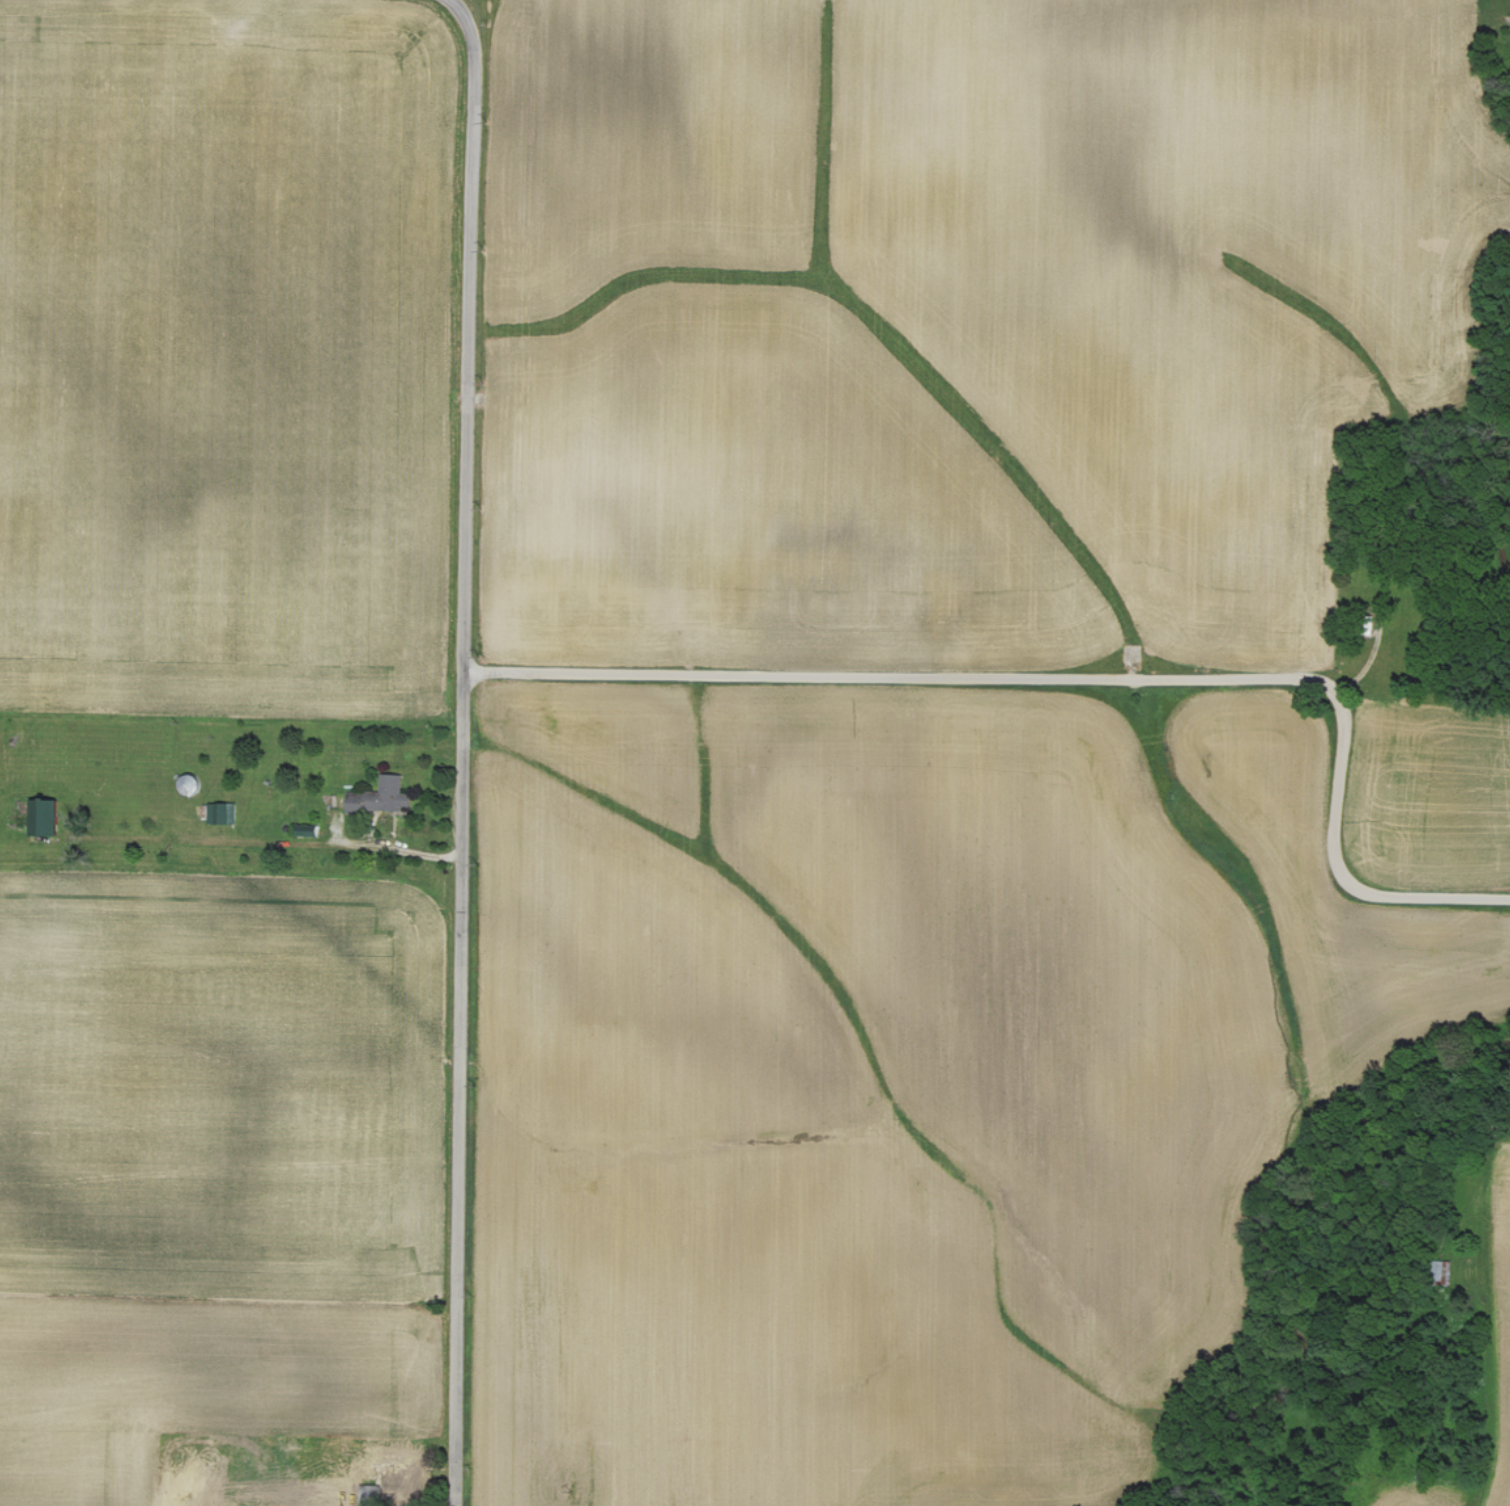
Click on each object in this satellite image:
road: (456, 1)
road: (1083, 679)
road: (466, 753)
building: (382, 795)

